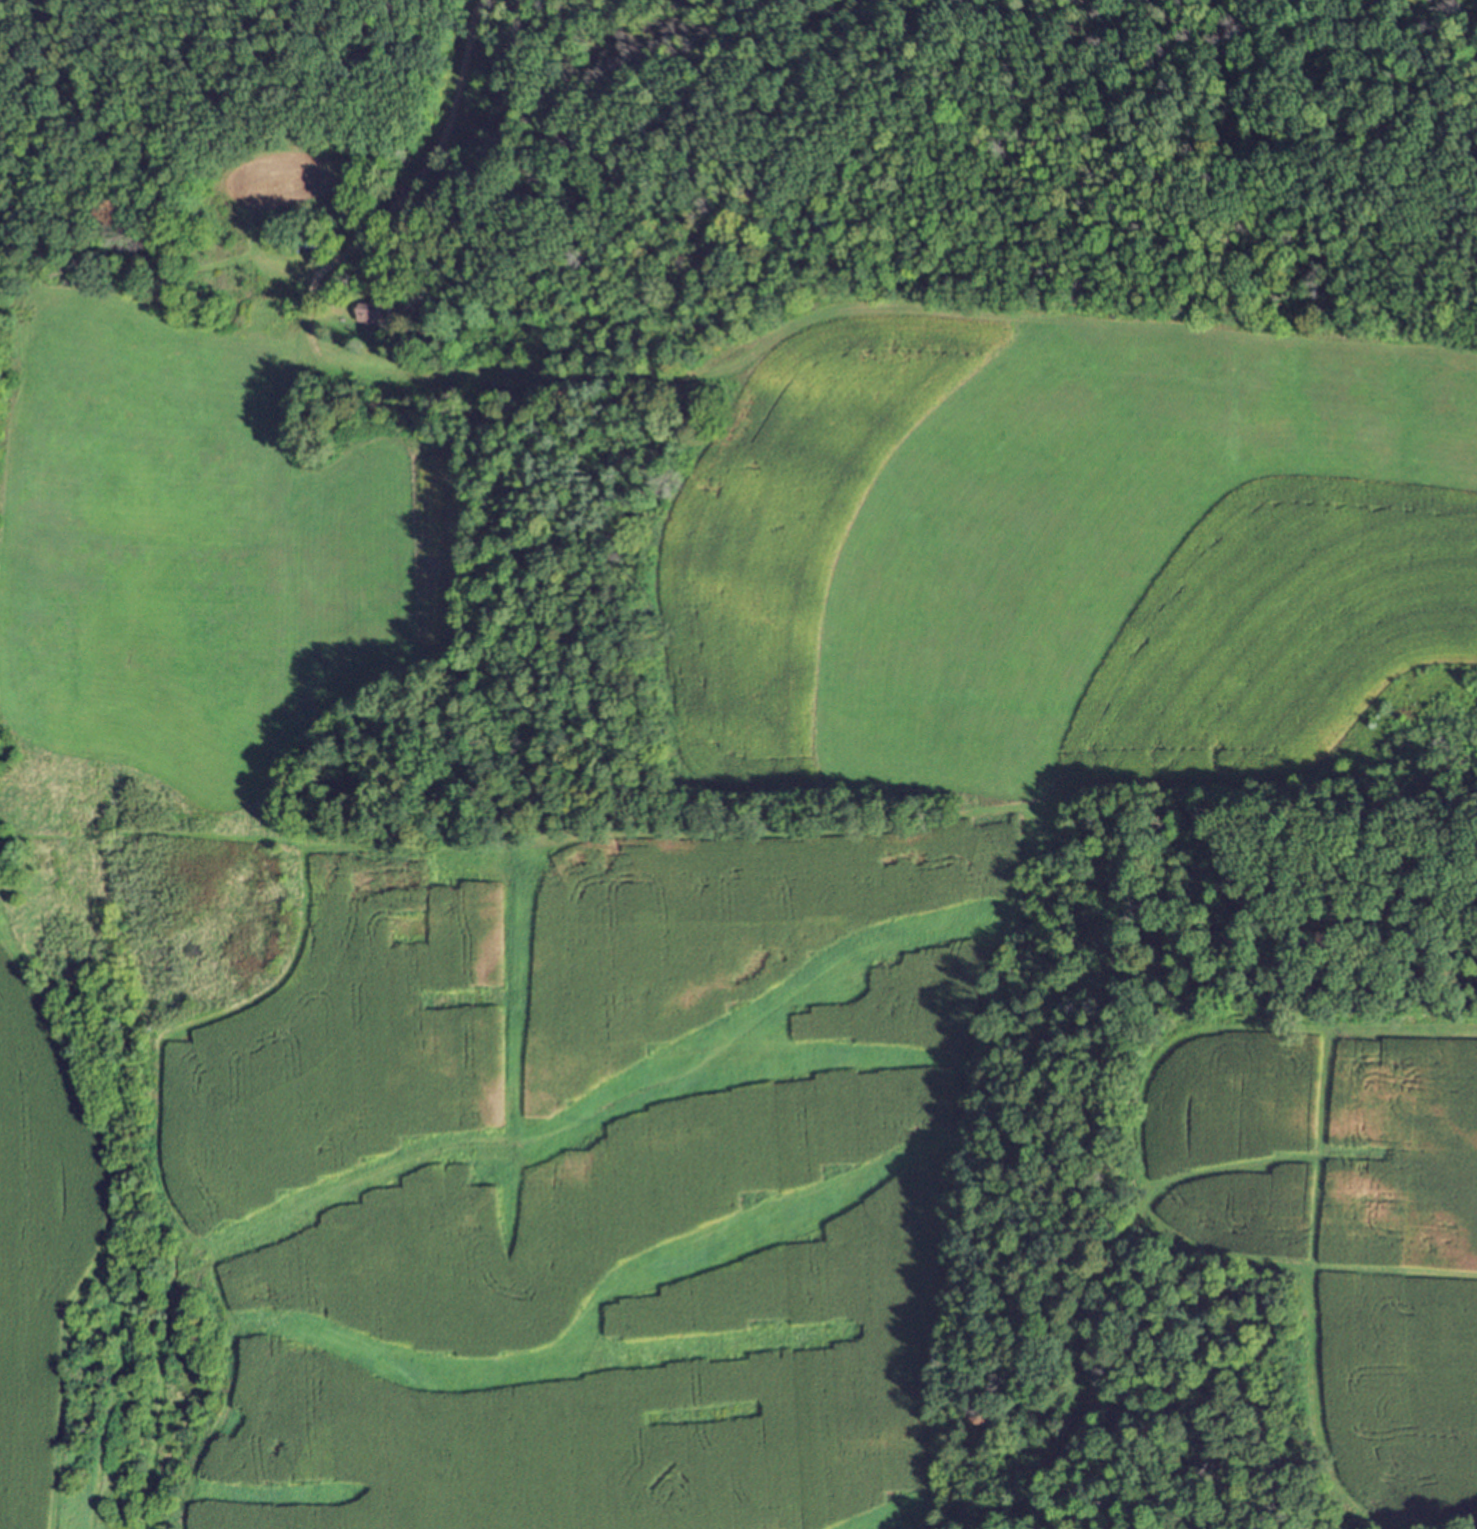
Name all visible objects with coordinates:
road: (451, 140)
building: (377, 317)

